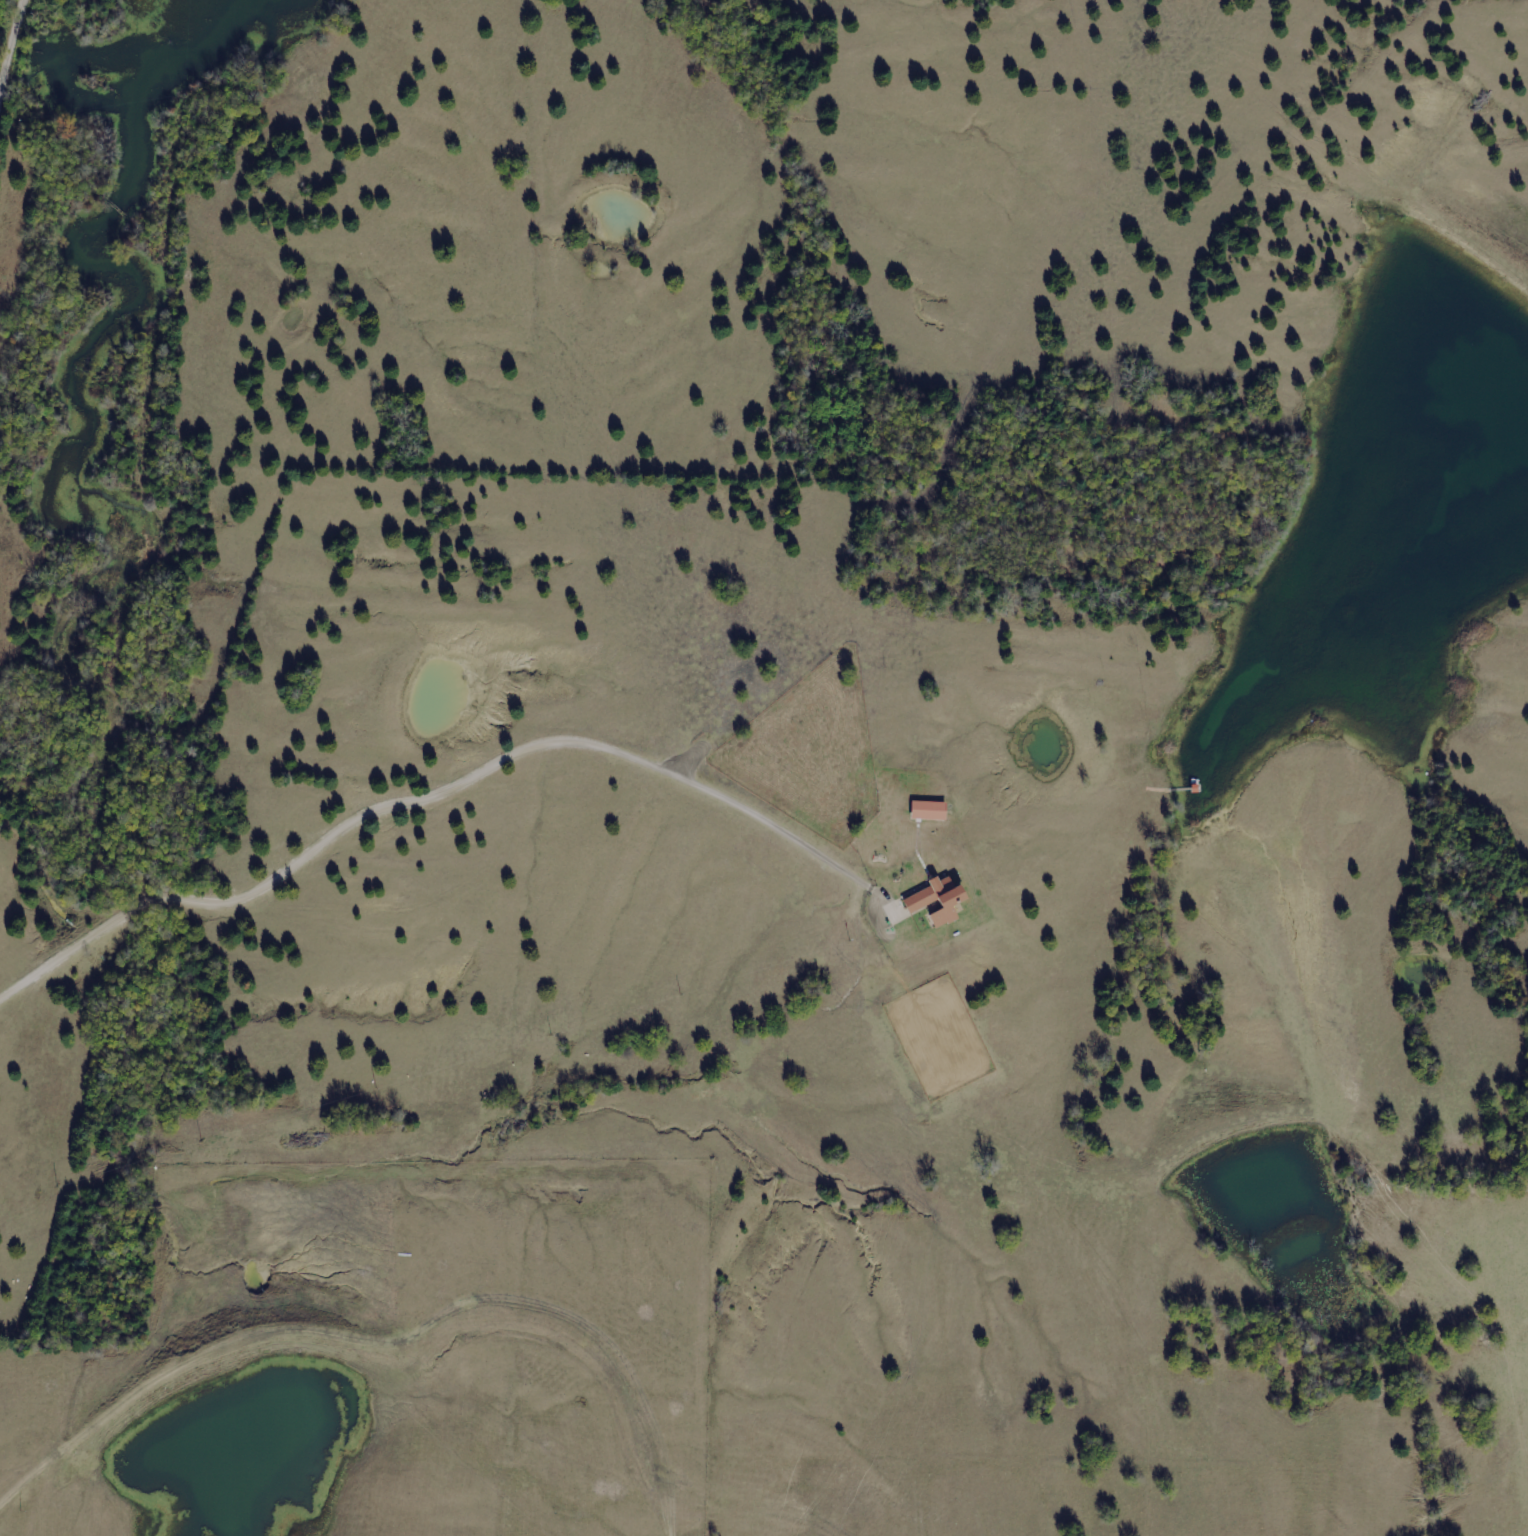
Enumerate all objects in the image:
road: (6, 30)
building: (932, 809)
building: (920, 902)

